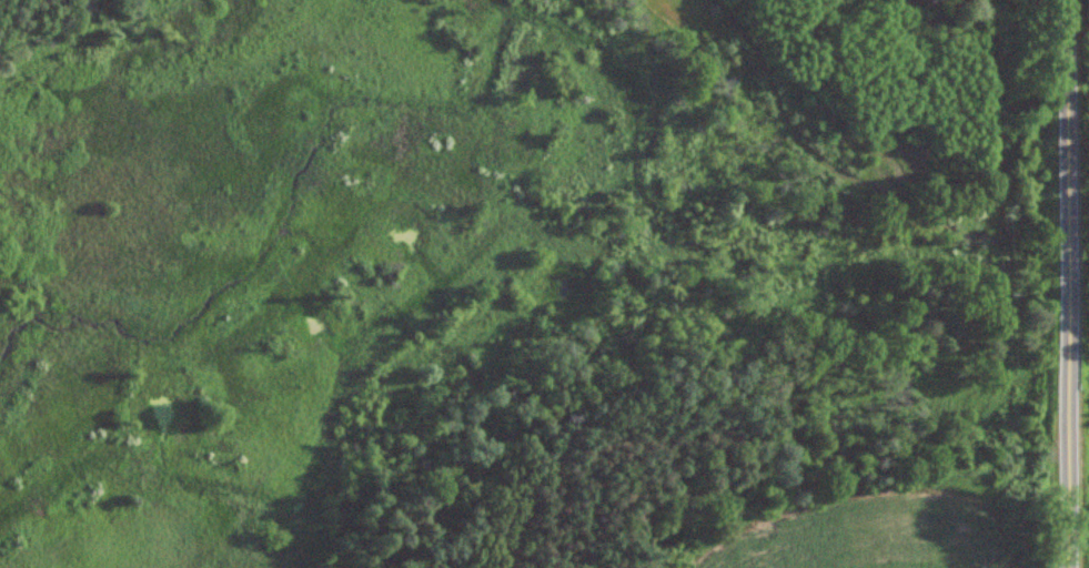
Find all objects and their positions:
road: (1065, 284)

